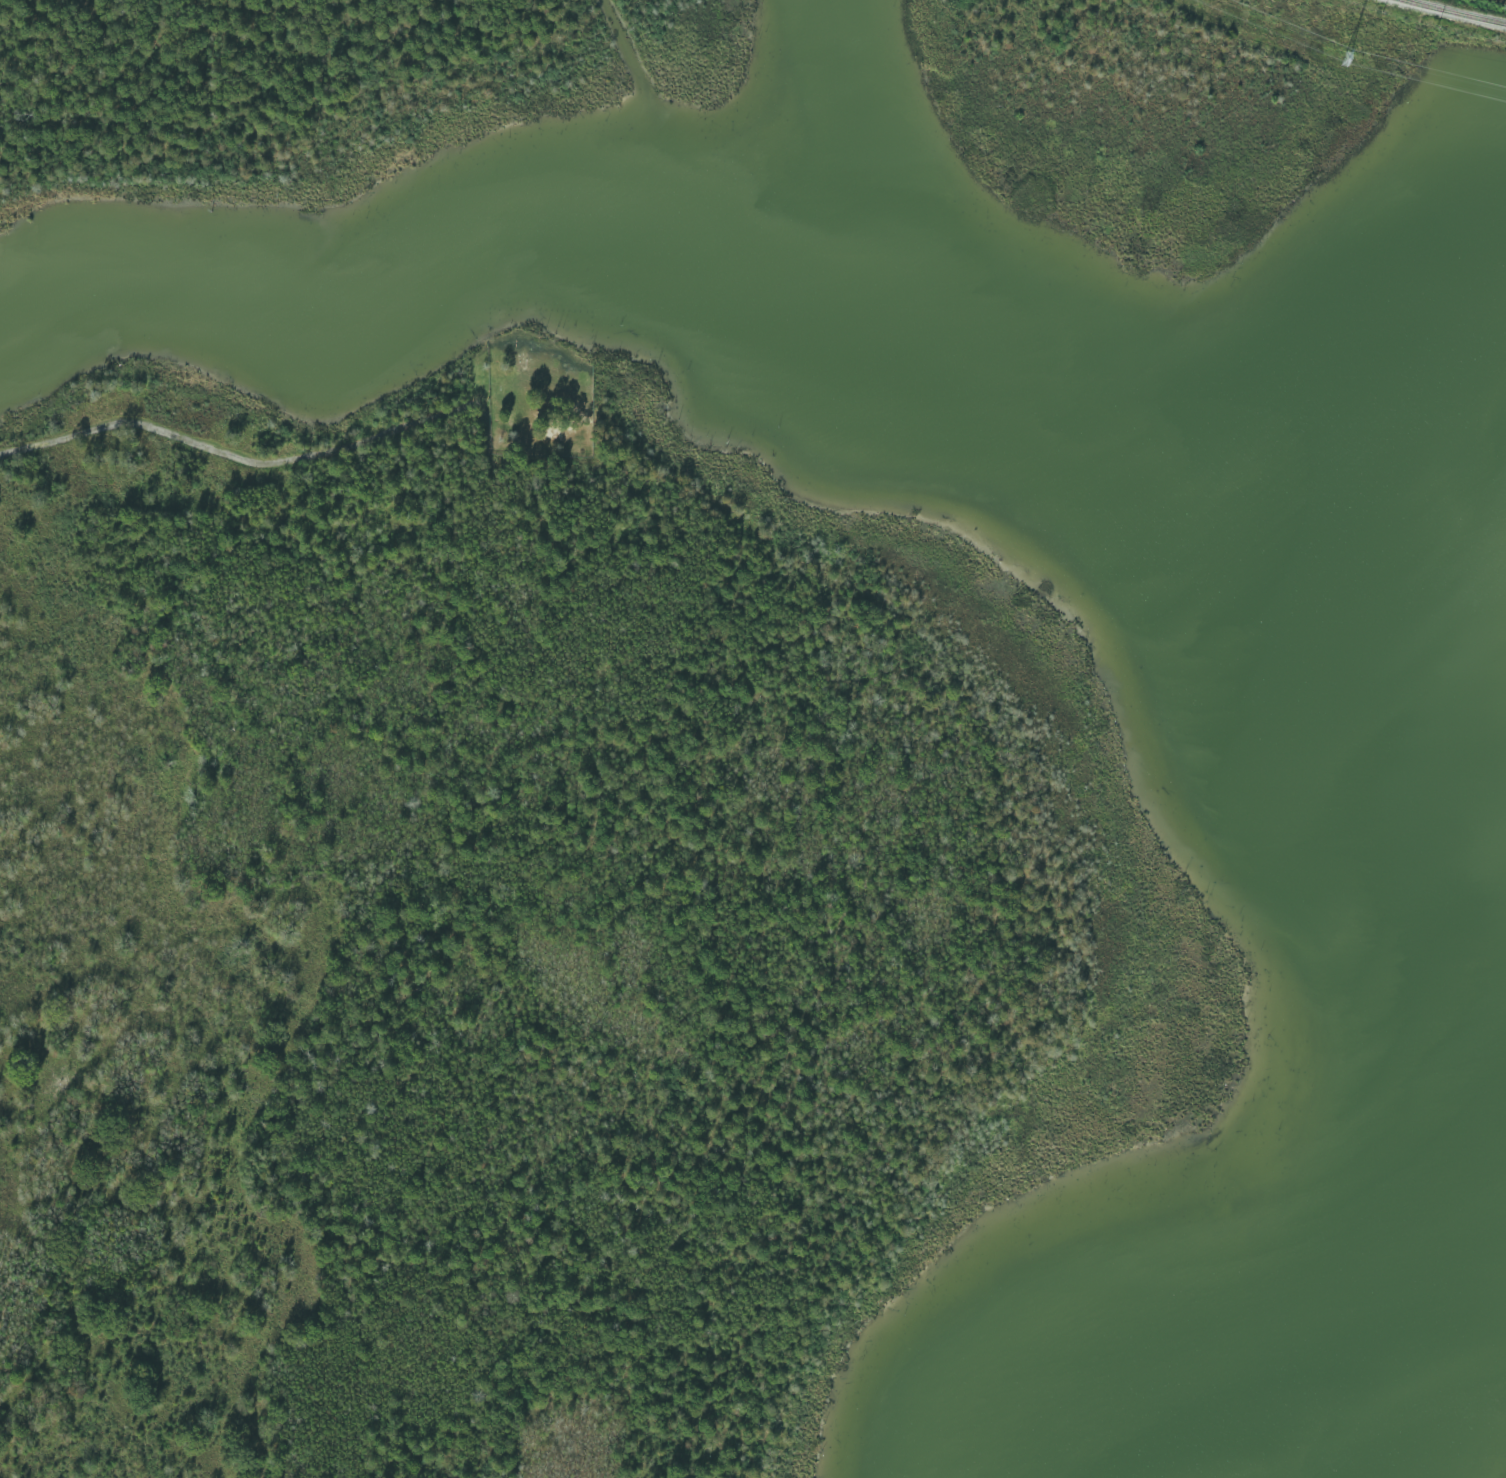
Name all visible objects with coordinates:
railway: (1454, 12)
power tower: (1346, 57)

